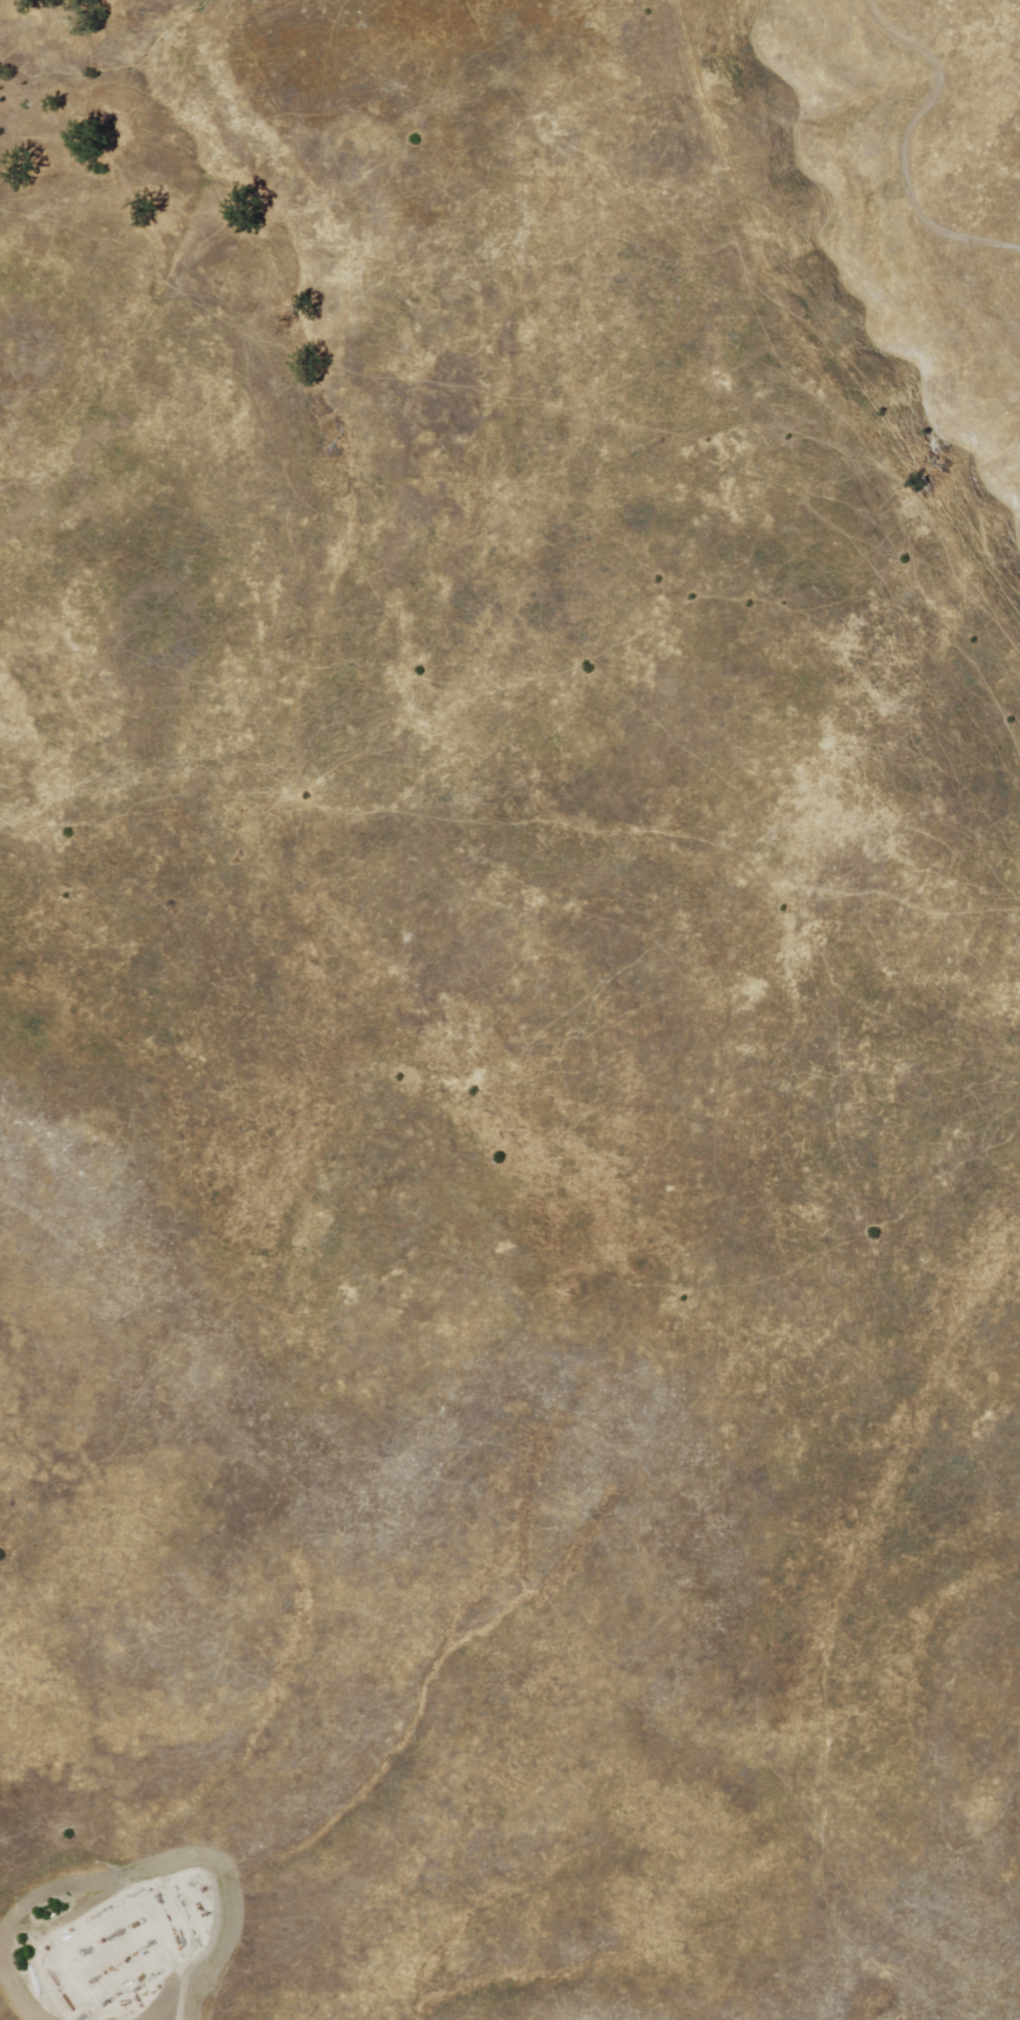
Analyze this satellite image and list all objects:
road: (909, 143)

